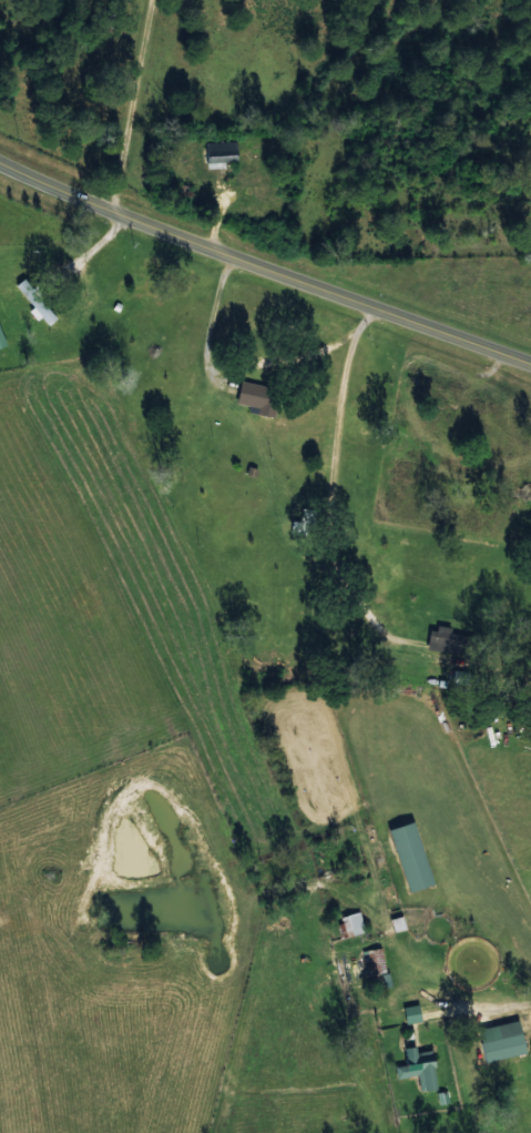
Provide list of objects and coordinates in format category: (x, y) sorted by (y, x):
building: (221, 153)
road: (264, 266)
building: (37, 303)
building: (1, 340)
building: (257, 397)
building: (446, 639)
building: (460, 677)
road: (319, 828)
building: (410, 857)
building: (353, 923)
building: (398, 923)
road: (499, 931)
building: (375, 960)
building: (502, 1041)
building: (418, 1068)

